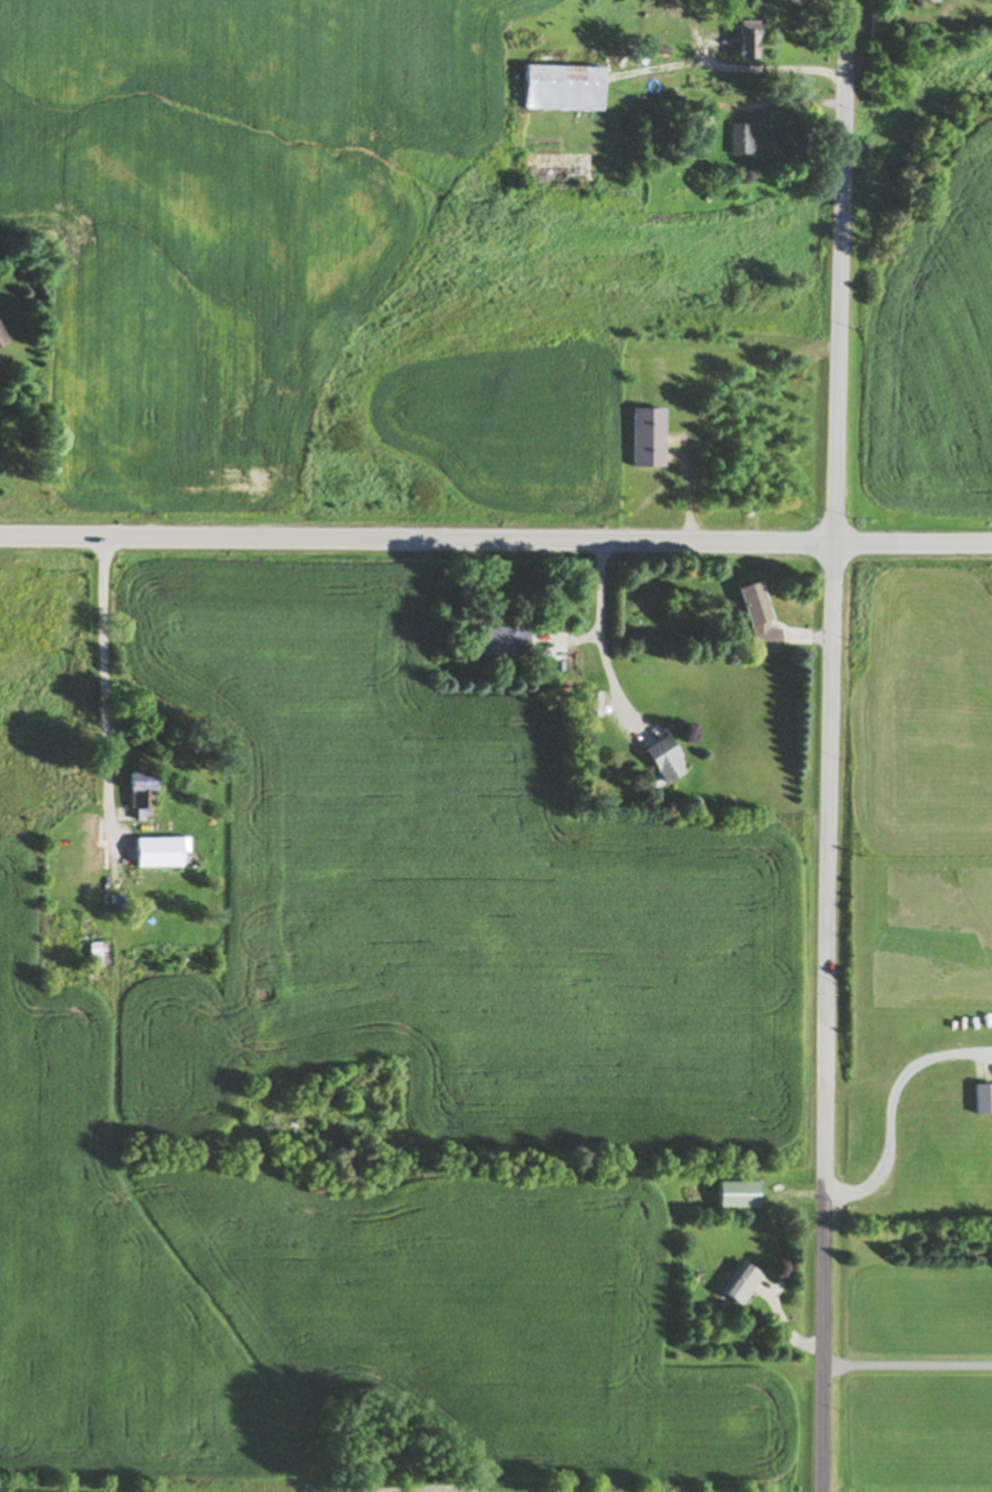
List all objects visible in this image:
building: (925, 0)
building: (750, 37)
building: (666, 47)
road: (739, 67)
building: (564, 85)
building: (743, 135)
building: (3, 335)
building: (649, 435)
road: (496, 538)
building: (761, 617)
building: (504, 638)
road: (601, 640)
building: (561, 663)
building: (574, 671)
building: (597, 702)
road: (833, 745)
building: (667, 759)
building: (142, 792)
building: (162, 849)
building: (97, 951)
building: (984, 1096)
road: (890, 1107)
building: (740, 1192)
building: (743, 1281)
road: (908, 1362)

